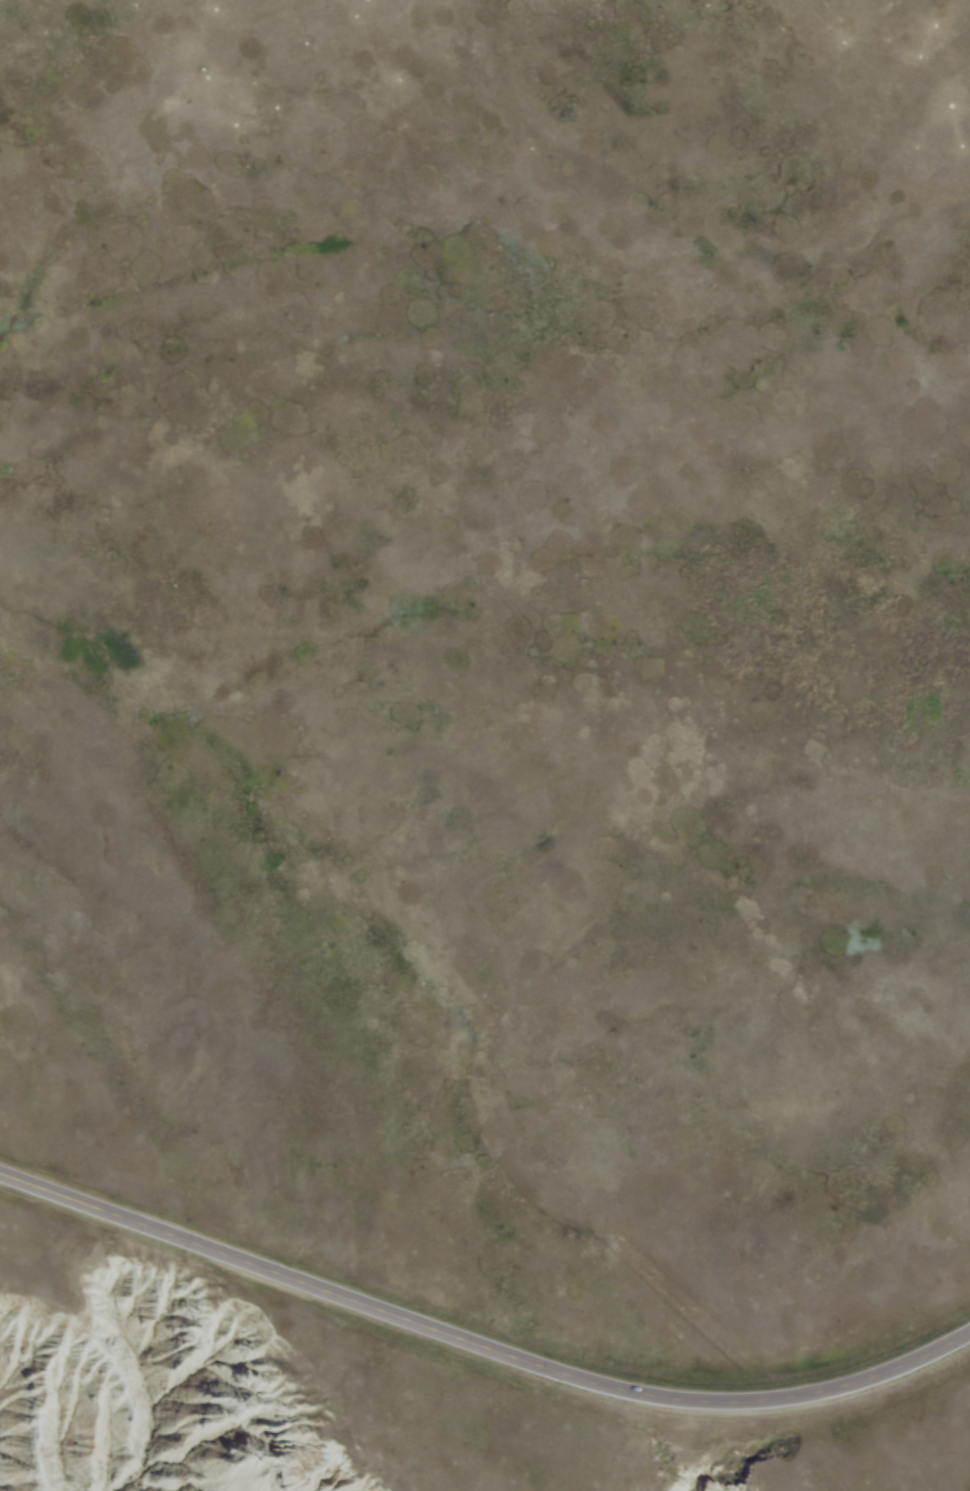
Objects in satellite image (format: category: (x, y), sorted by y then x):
road: (480, 1346)

